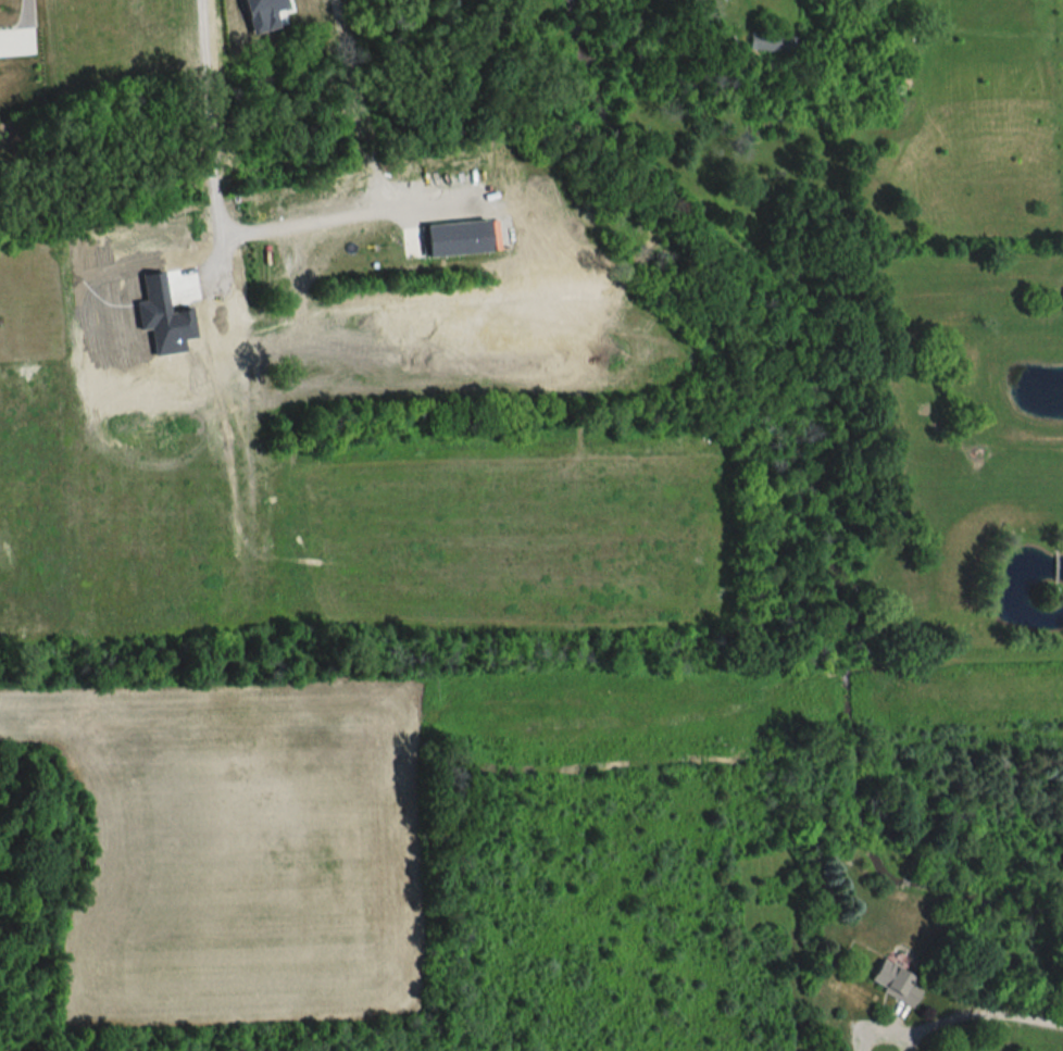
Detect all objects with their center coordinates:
road: (30, 30)
building: (770, 43)
road: (366, 132)
road: (217, 192)
crop: (130, 412)
crop: (240, 849)
building: (895, 983)
road: (988, 1014)
road: (887, 1034)
road: (910, 1041)

